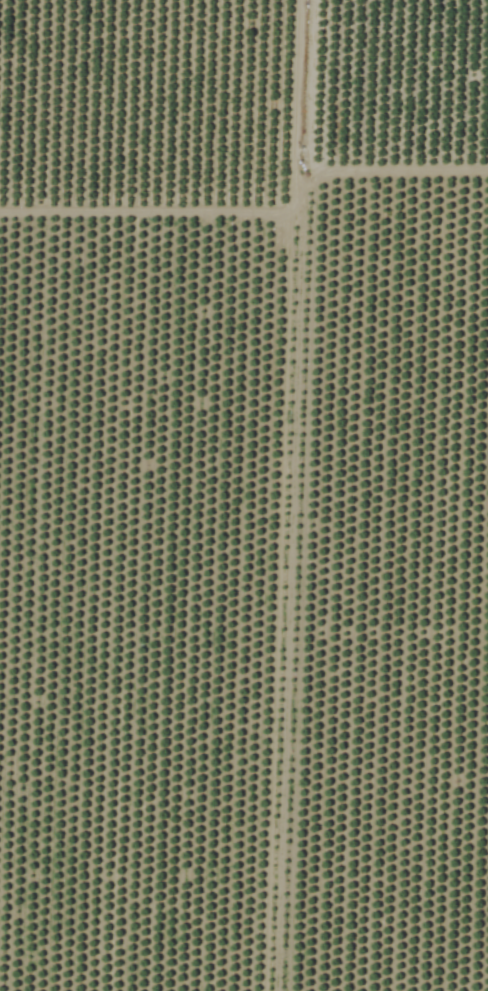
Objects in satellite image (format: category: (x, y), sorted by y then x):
crop: (244, 495)

